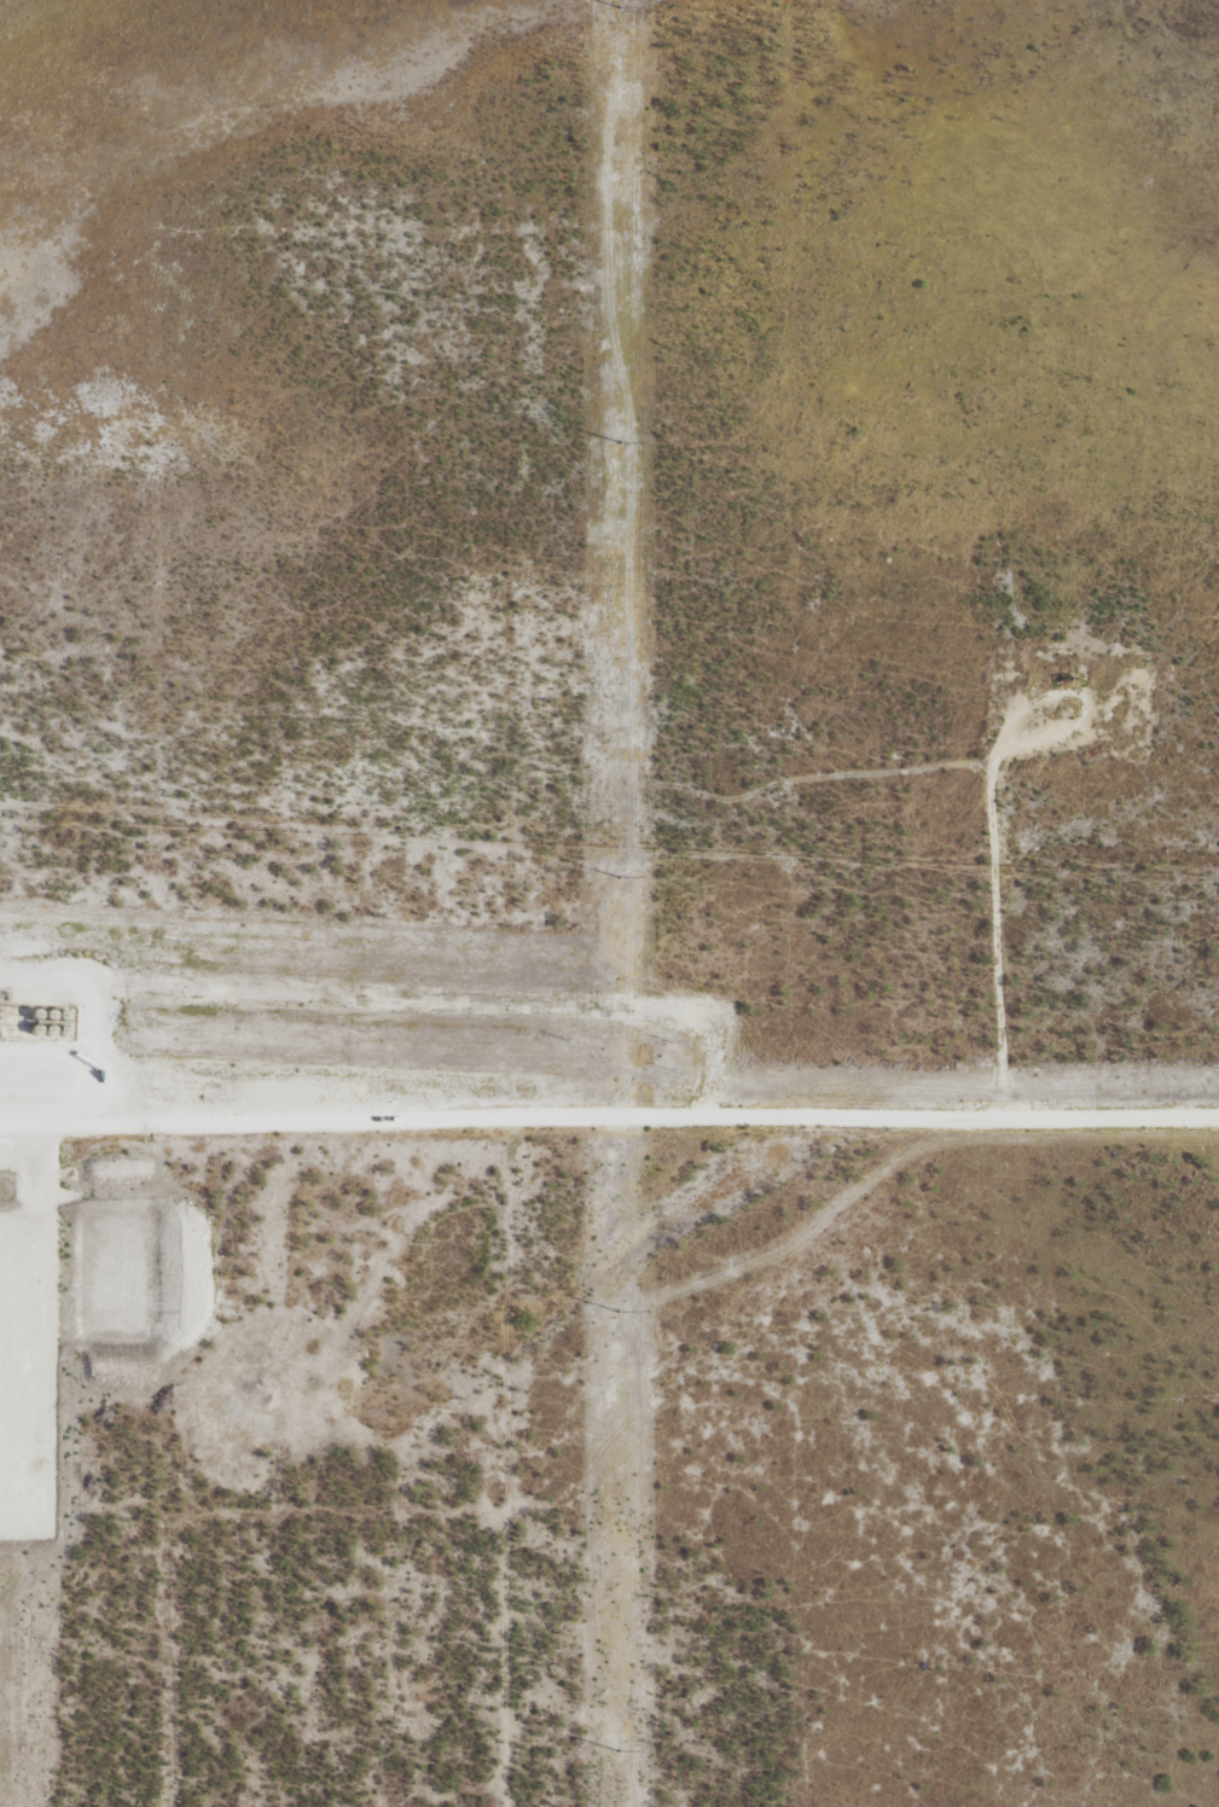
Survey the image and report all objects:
power tower: (619, 0)
power tower: (619, 436)
power tower: (619, 868)
road: (326, 1128)
power tower: (619, 1306)
power tower: (619, 1739)

